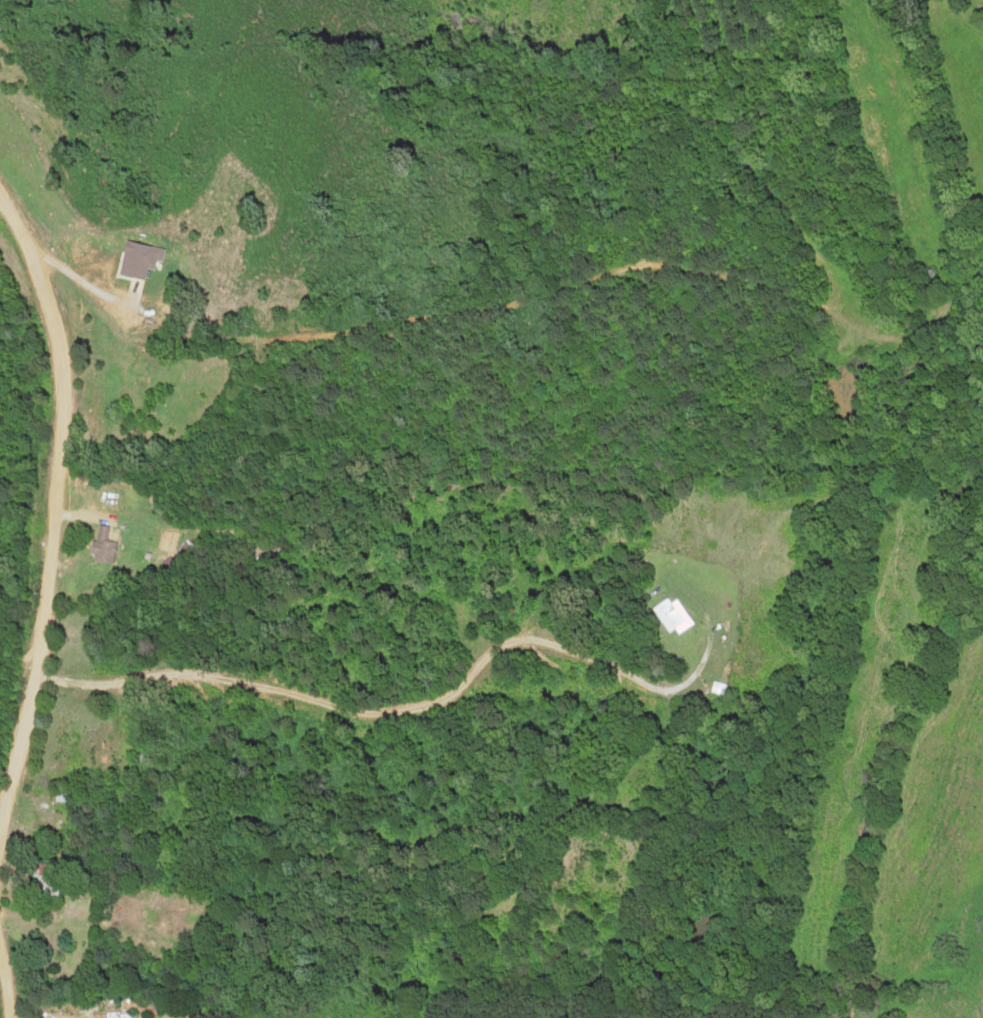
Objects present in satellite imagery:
building: (142, 358)
road: (57, 537)
building: (100, 547)
building: (668, 615)
building: (51, 807)
road: (8, 960)
building: (126, 1016)

